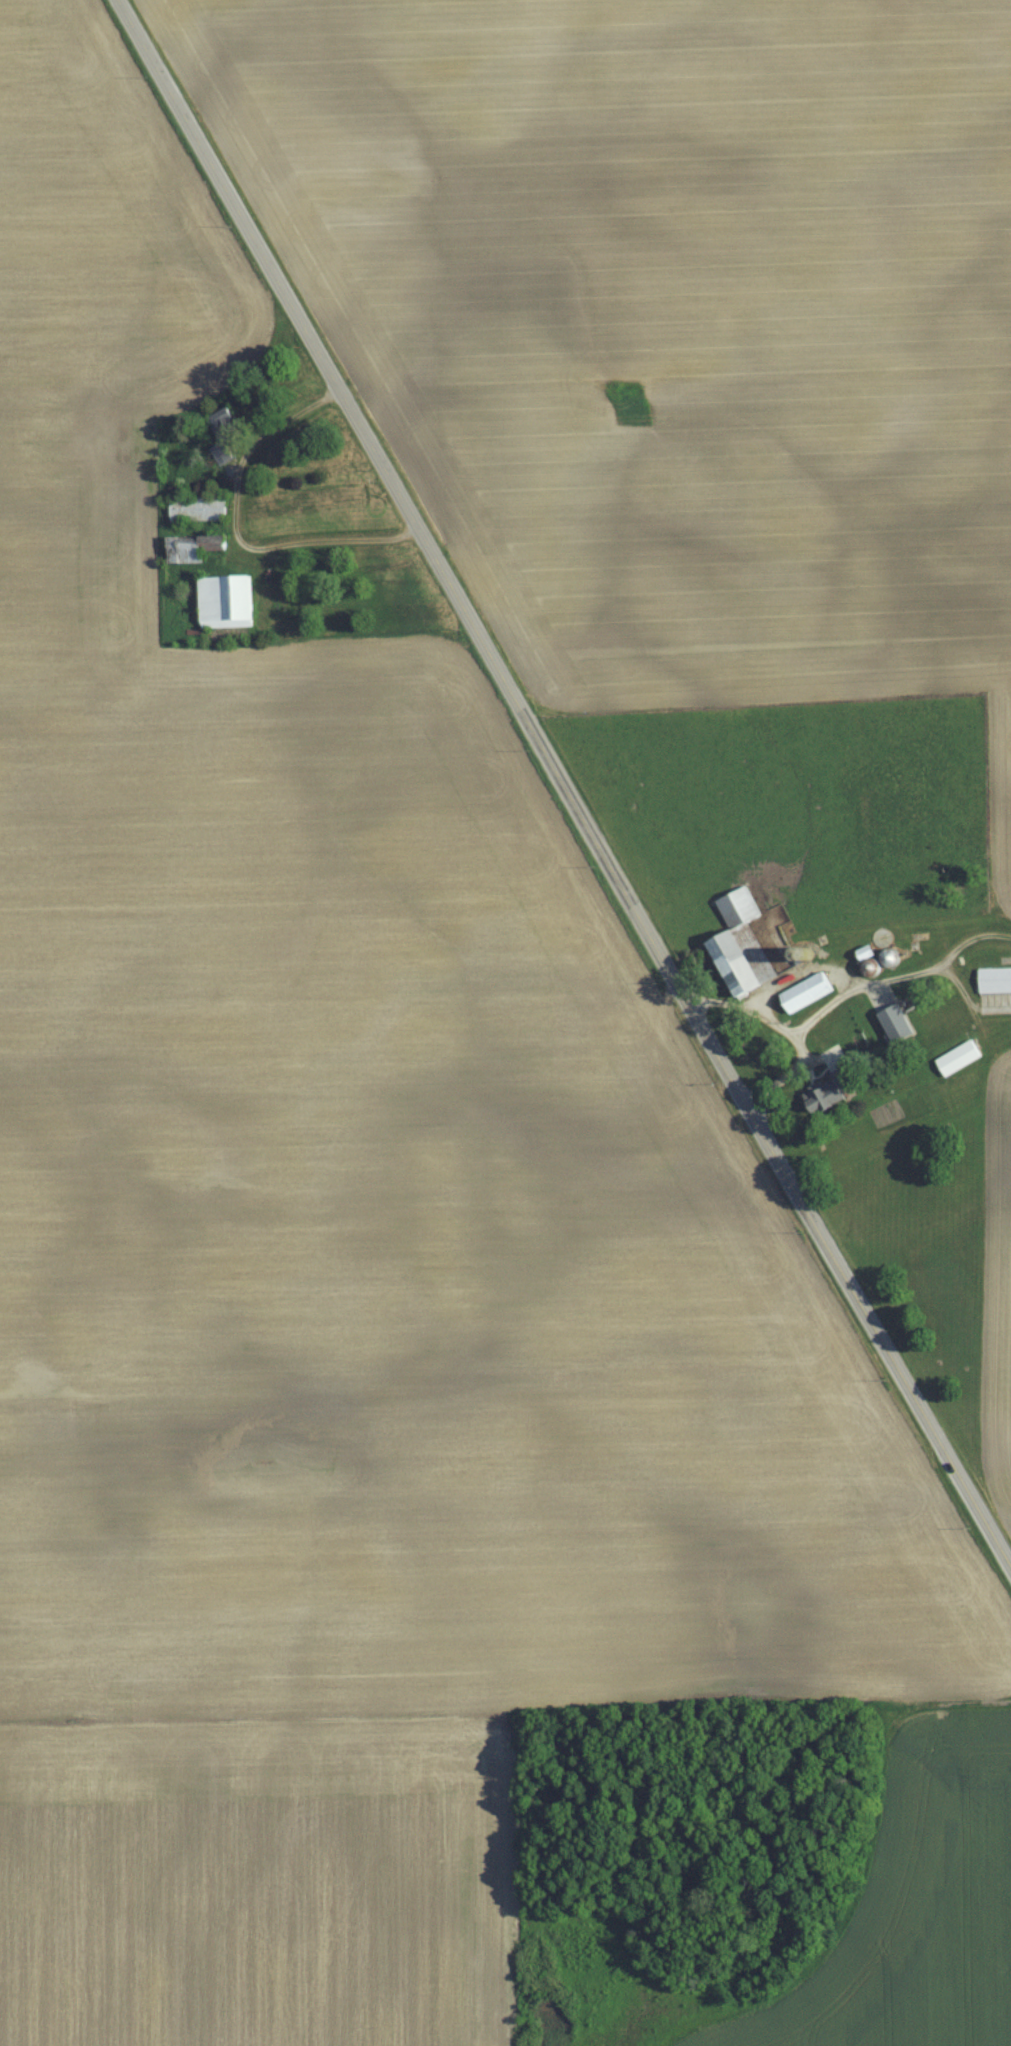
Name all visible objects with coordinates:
building: (227, 432)
building: (198, 508)
road: (237, 523)
building: (195, 547)
building: (229, 601)
road: (563, 783)
building: (749, 943)
building: (995, 980)
building: (809, 992)
building: (900, 1023)
building: (961, 1057)
building: (834, 1089)

